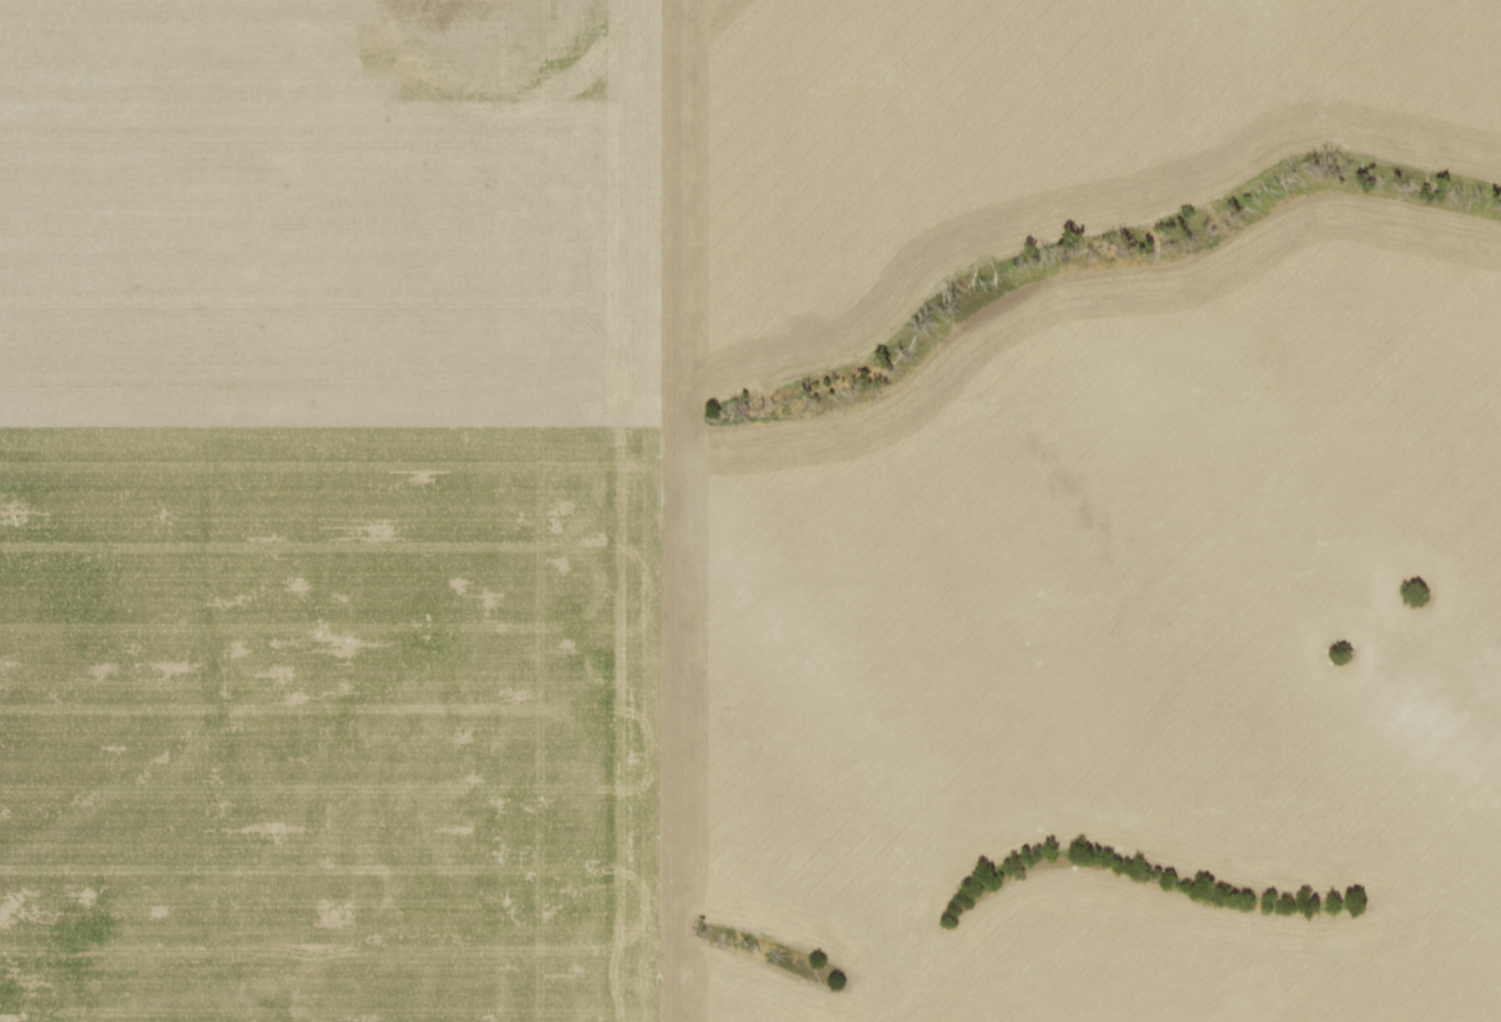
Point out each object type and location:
crop: (742, 516)

